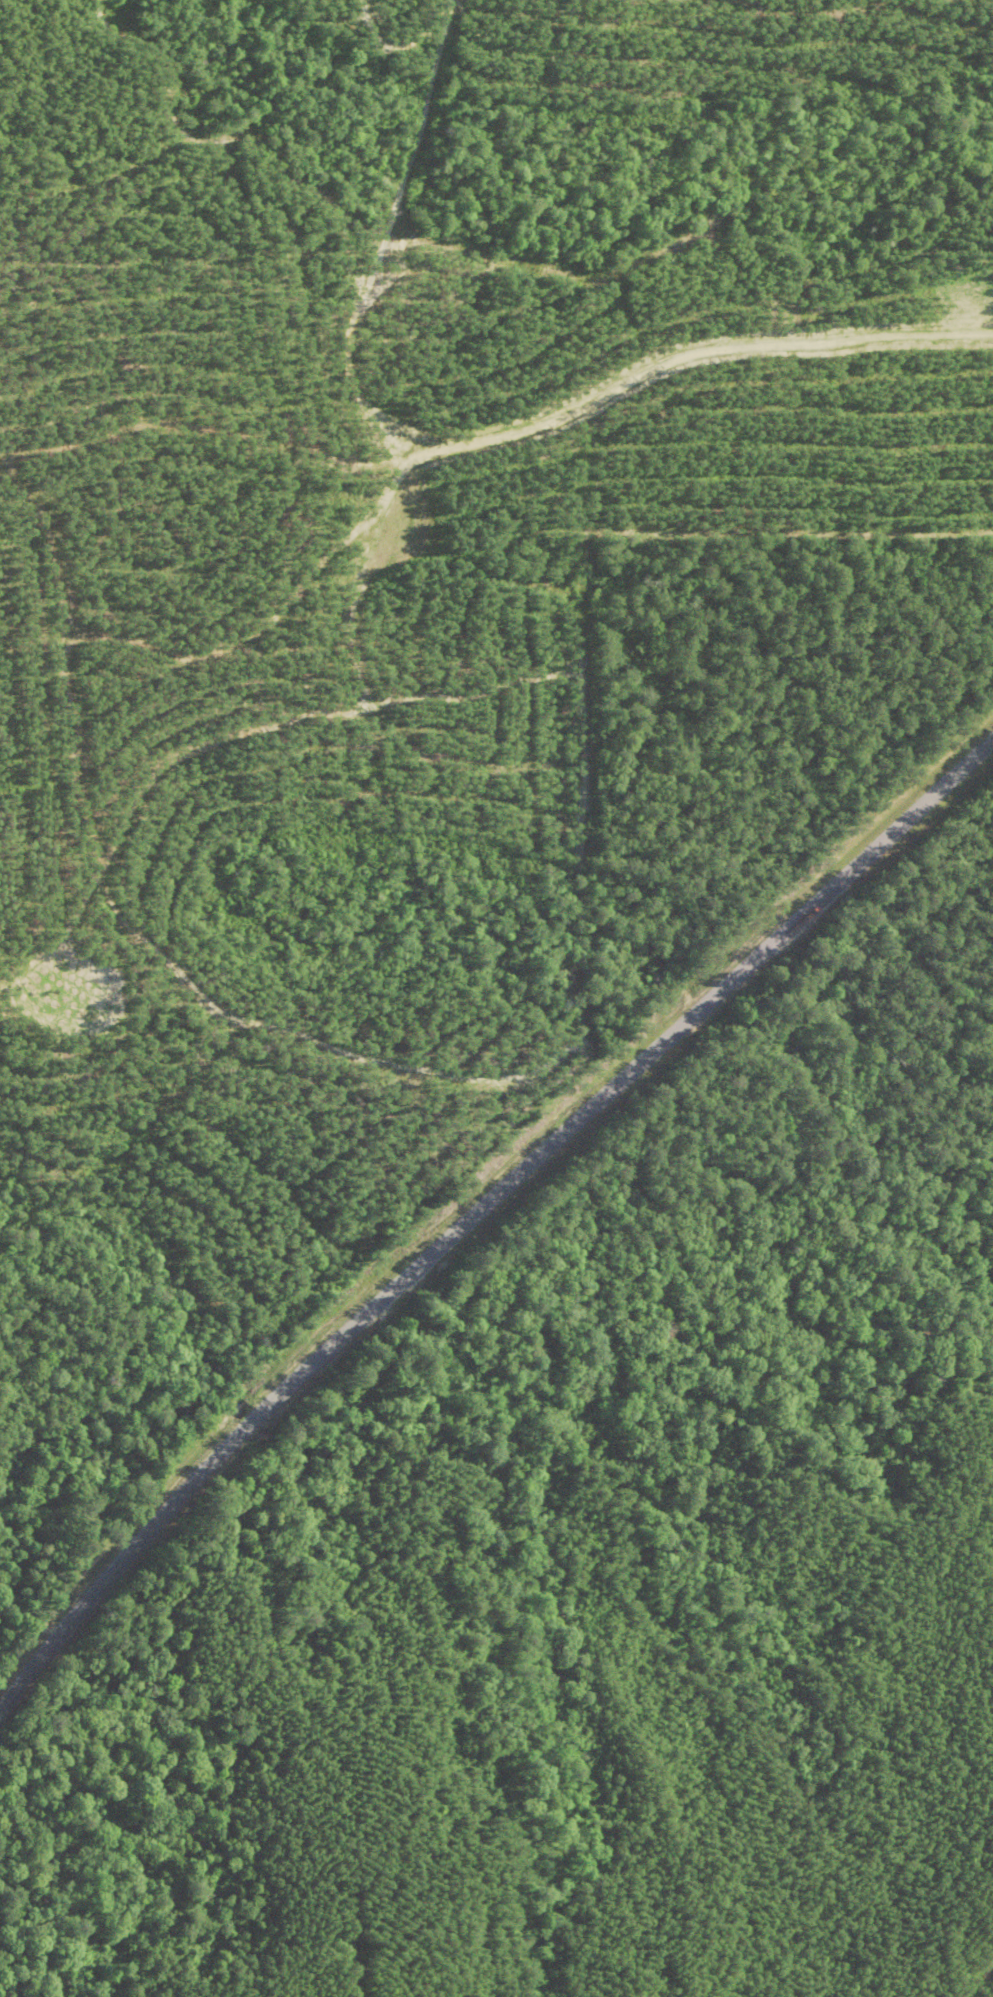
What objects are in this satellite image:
road: (479, 1213)

